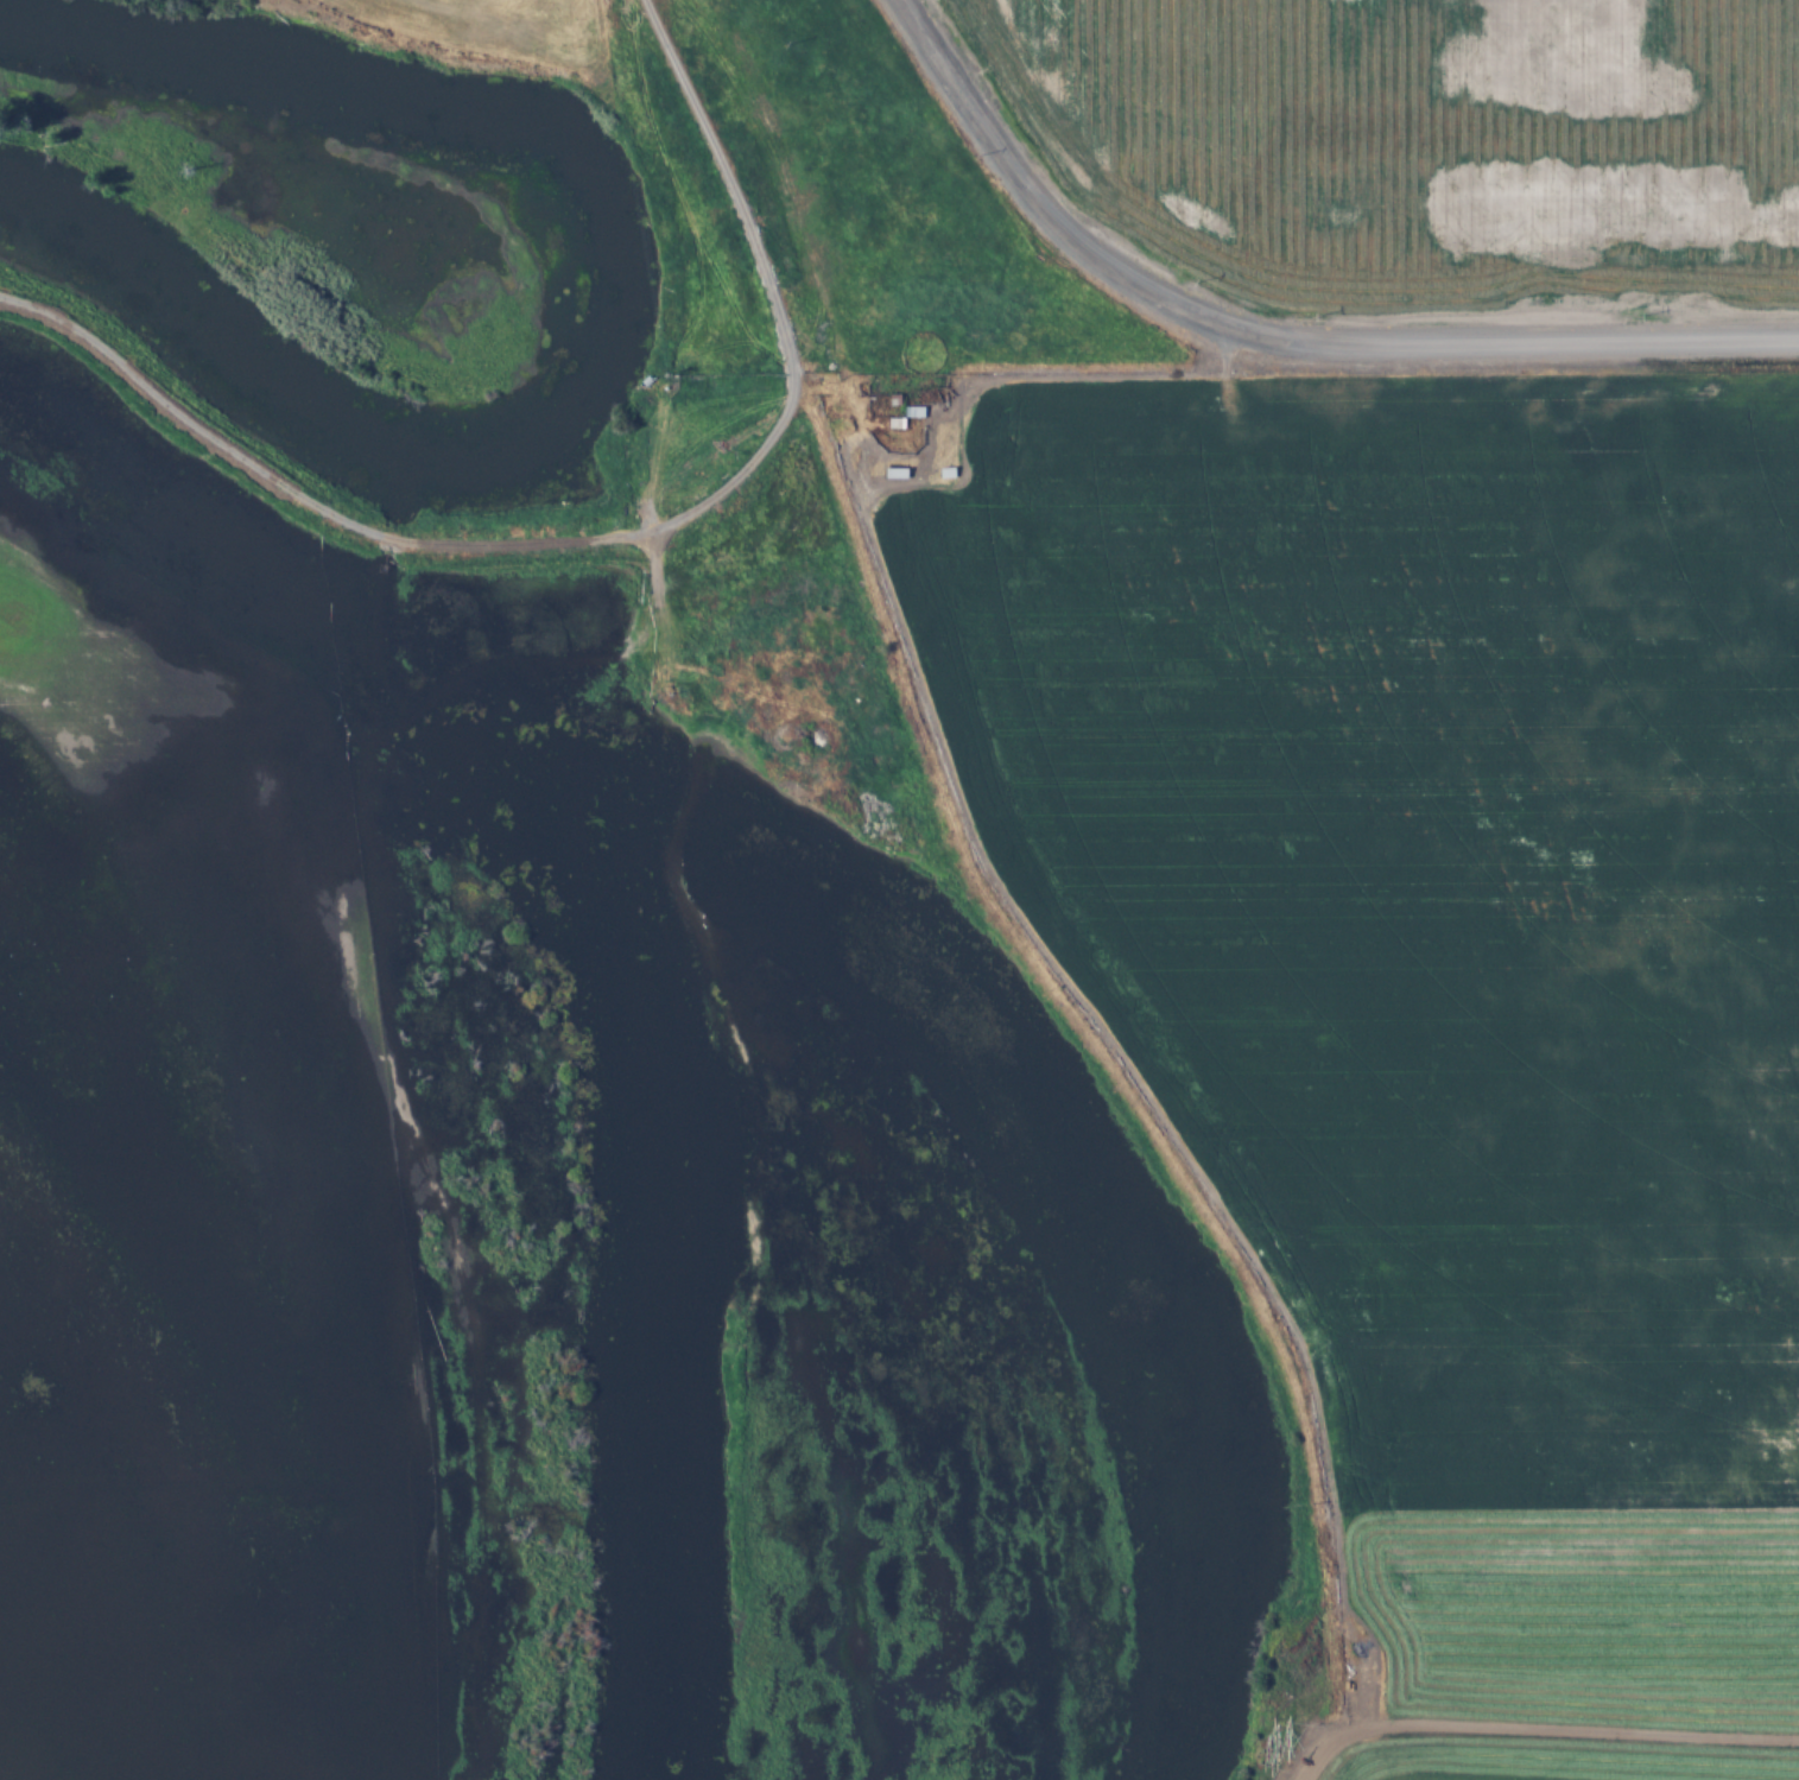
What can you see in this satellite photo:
crop: (1404, 160)
road: (743, 215)
river: (613, 318)
road: (1262, 340)
building: (897, 470)
river: (1110, 1246)
river: (674, 1247)

